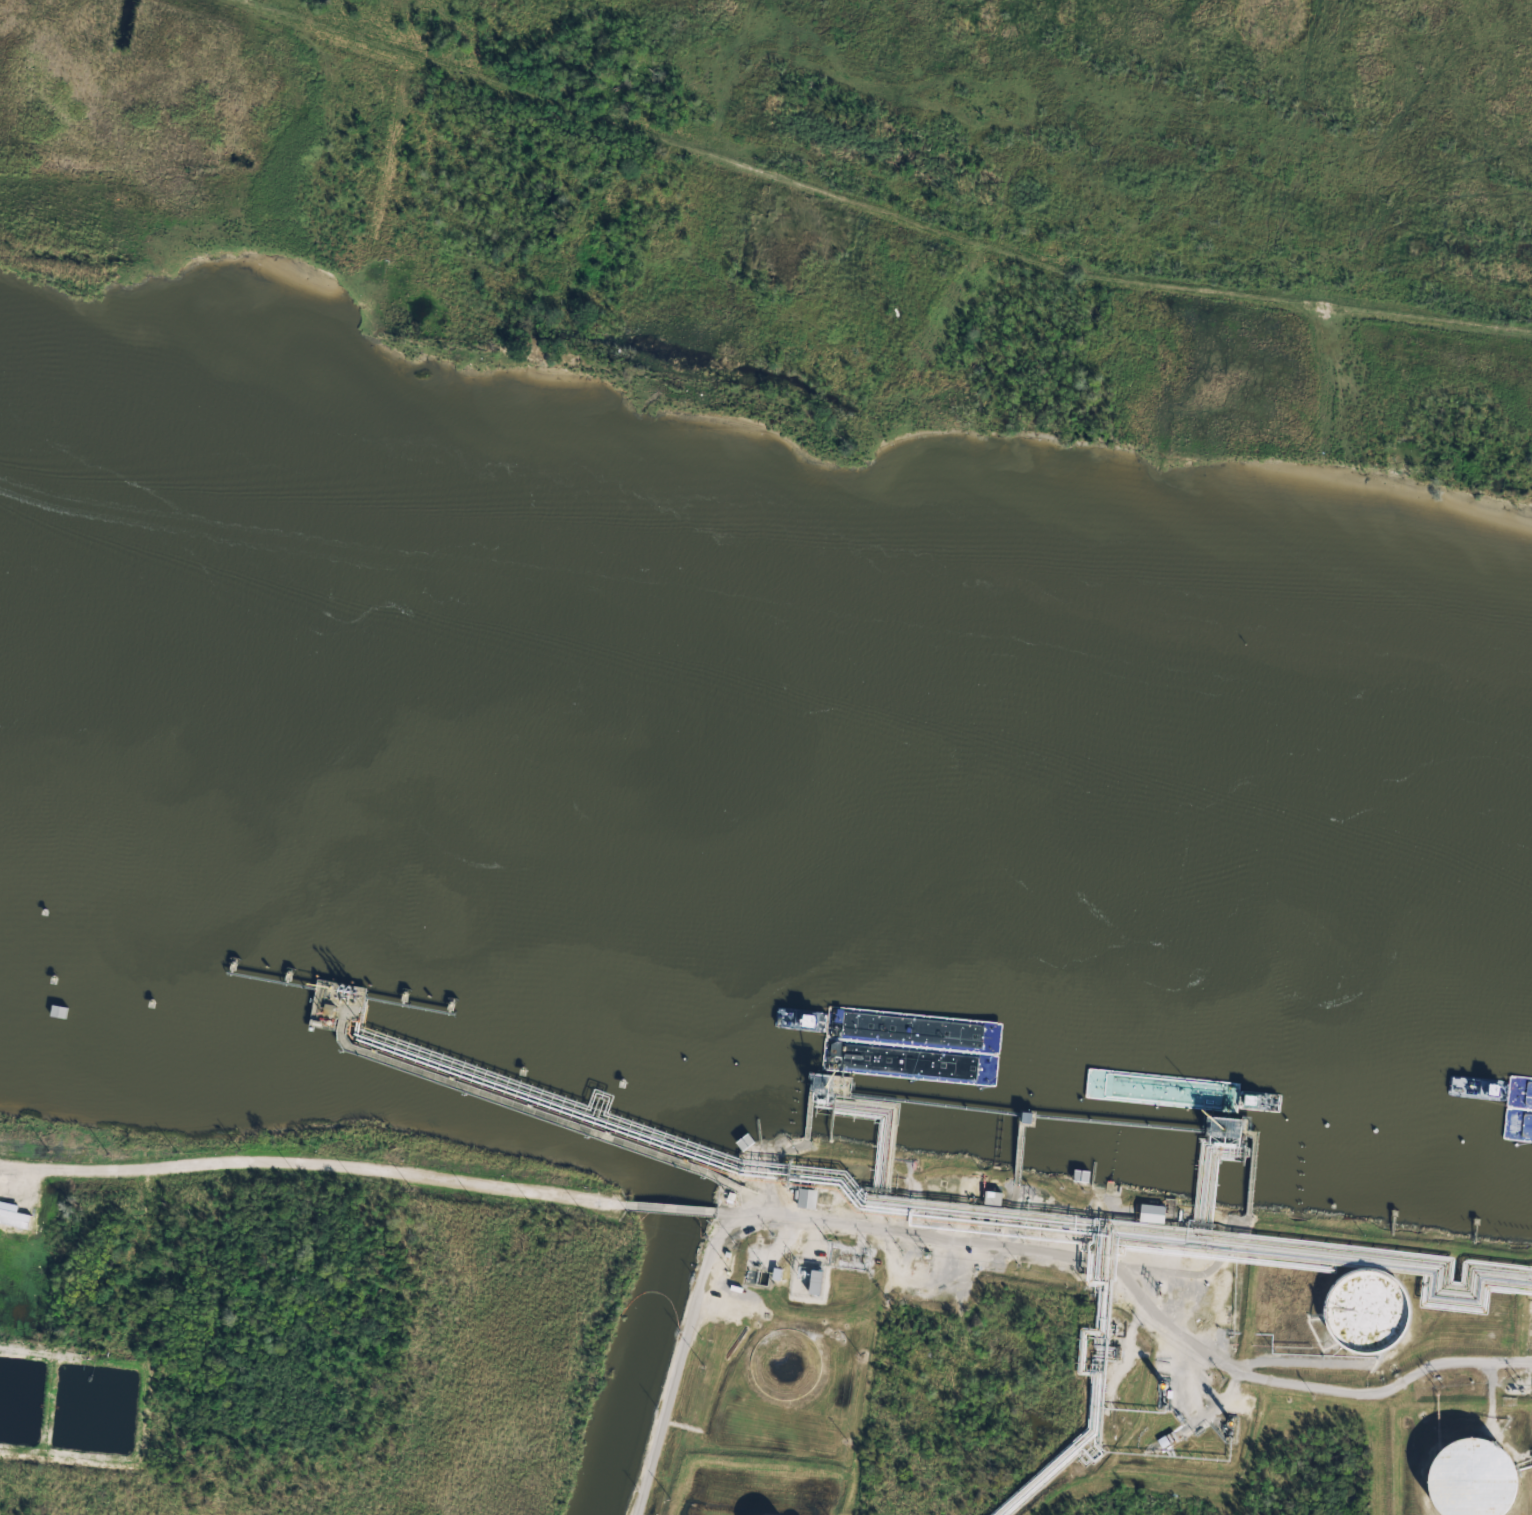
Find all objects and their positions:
river: (765, 783)
building: (992, 1197)
building: (806, 1198)
building: (1152, 1213)
building: (13, 1215)
road: (1010, 1229)

